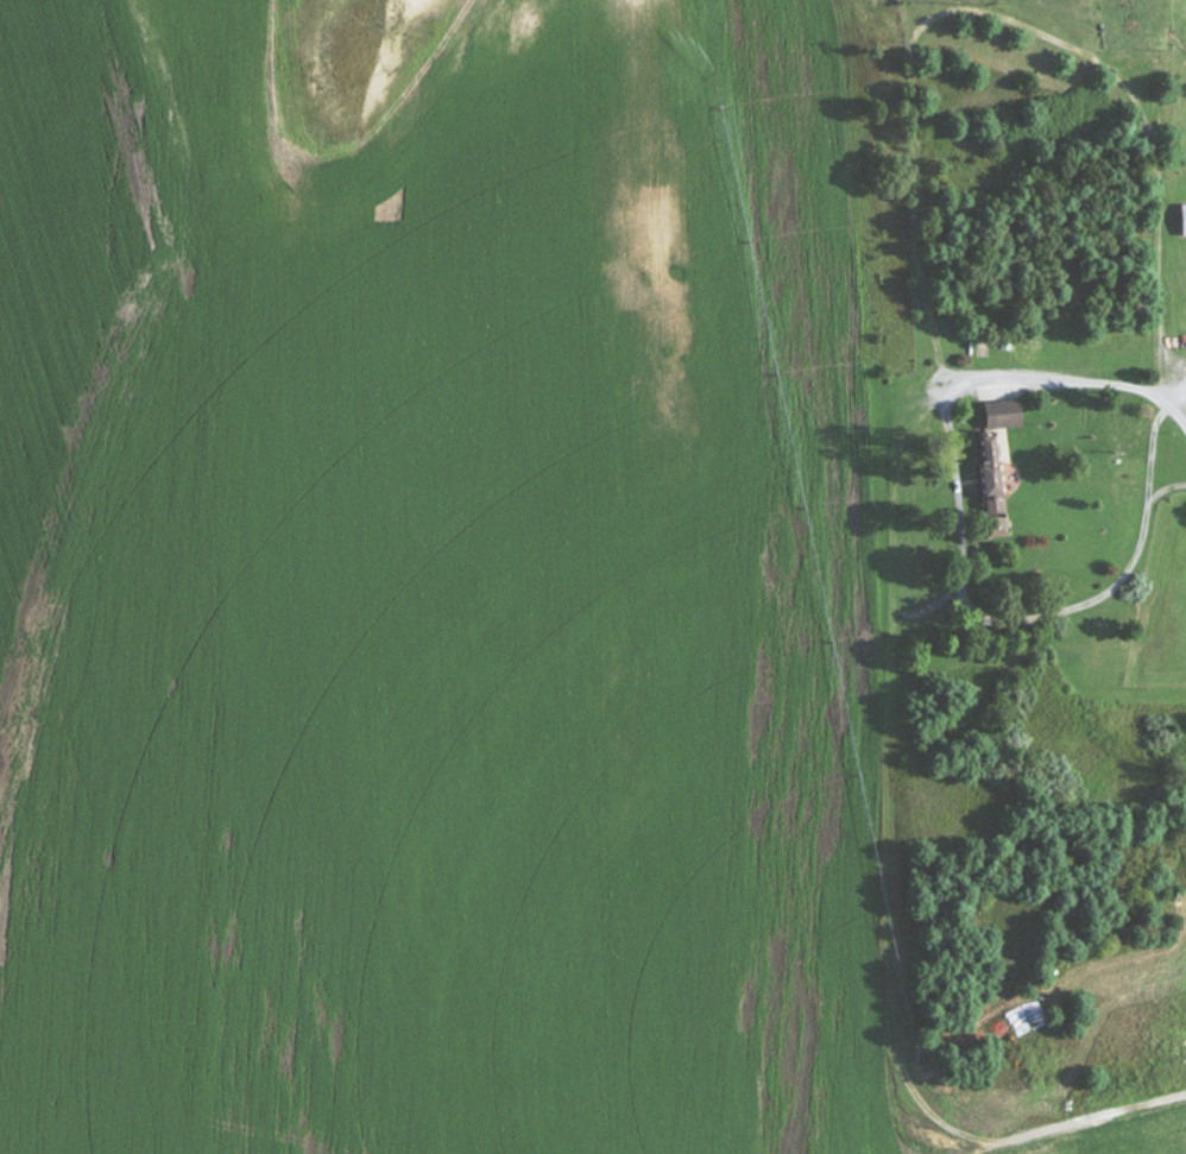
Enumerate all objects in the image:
road: (1160, 206)
building: (1185, 219)
building: (1005, 415)
building: (993, 466)
road: (961, 529)
road: (888, 757)
road: (971, 1146)

